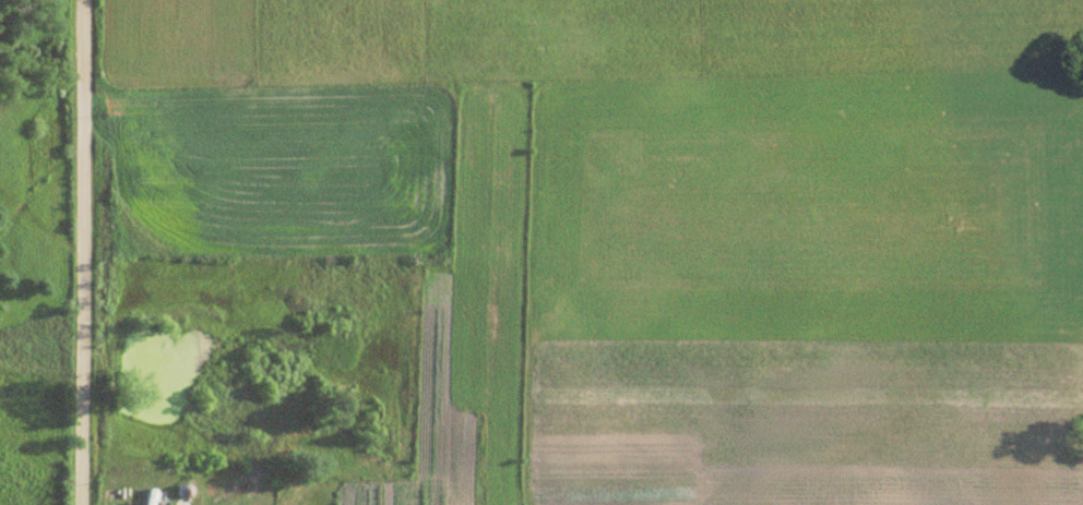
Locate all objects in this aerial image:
road: (79, 252)

